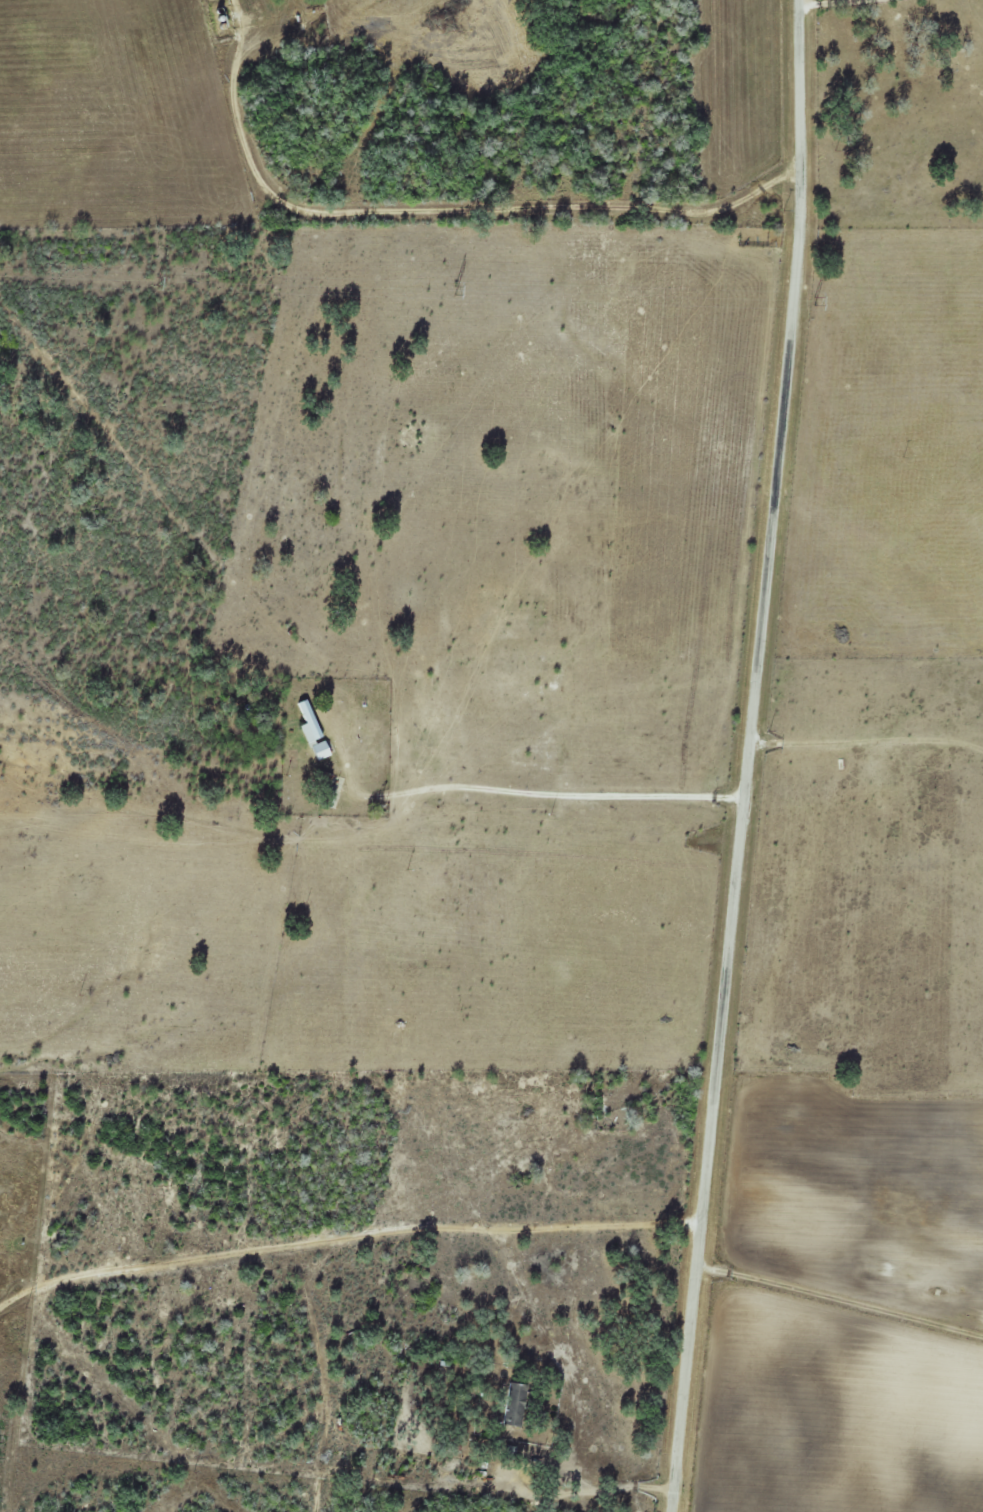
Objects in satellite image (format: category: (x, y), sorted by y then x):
power tower: (156, 271)
power tower: (454, 278)
power tower: (811, 286)
building: (310, 723)
building: (321, 750)
road: (753, 756)
building: (516, 1404)

